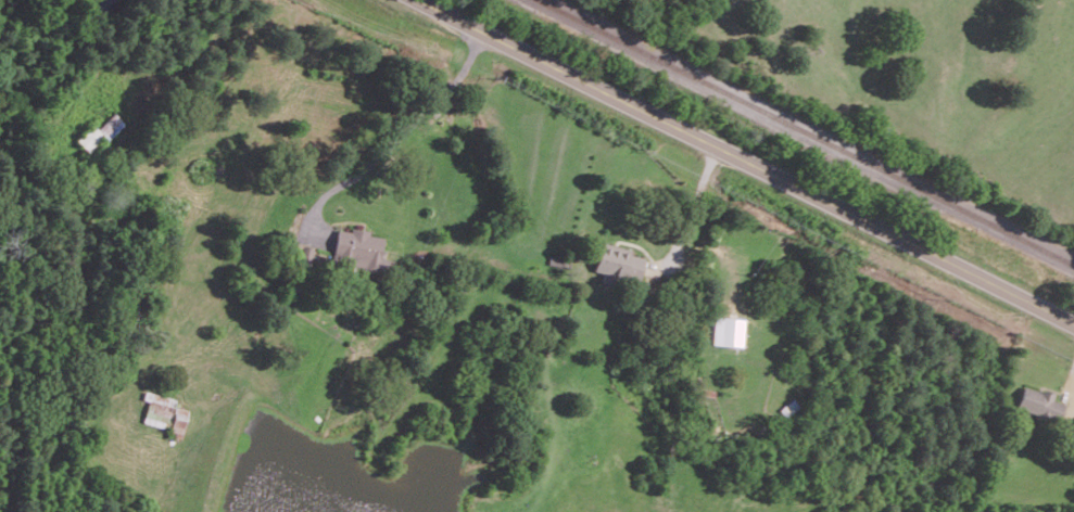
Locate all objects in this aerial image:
road: (188, 48)
railway: (809, 130)
building: (98, 132)
road: (401, 135)
road: (748, 161)
road: (695, 203)
building: (359, 251)
building: (305, 255)
building: (618, 265)
building: (726, 331)
building: (1039, 402)
building: (165, 412)

